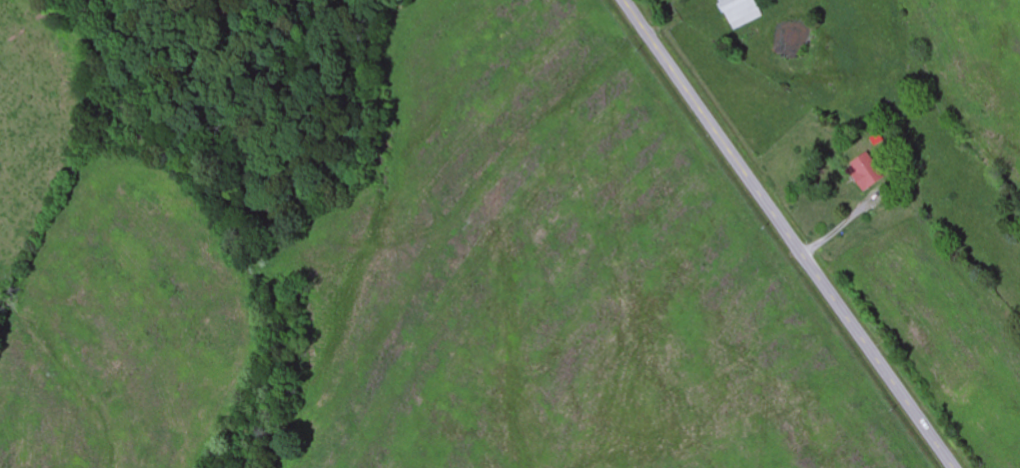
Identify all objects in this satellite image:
building: (732, 13)
building: (859, 172)
road: (788, 234)

